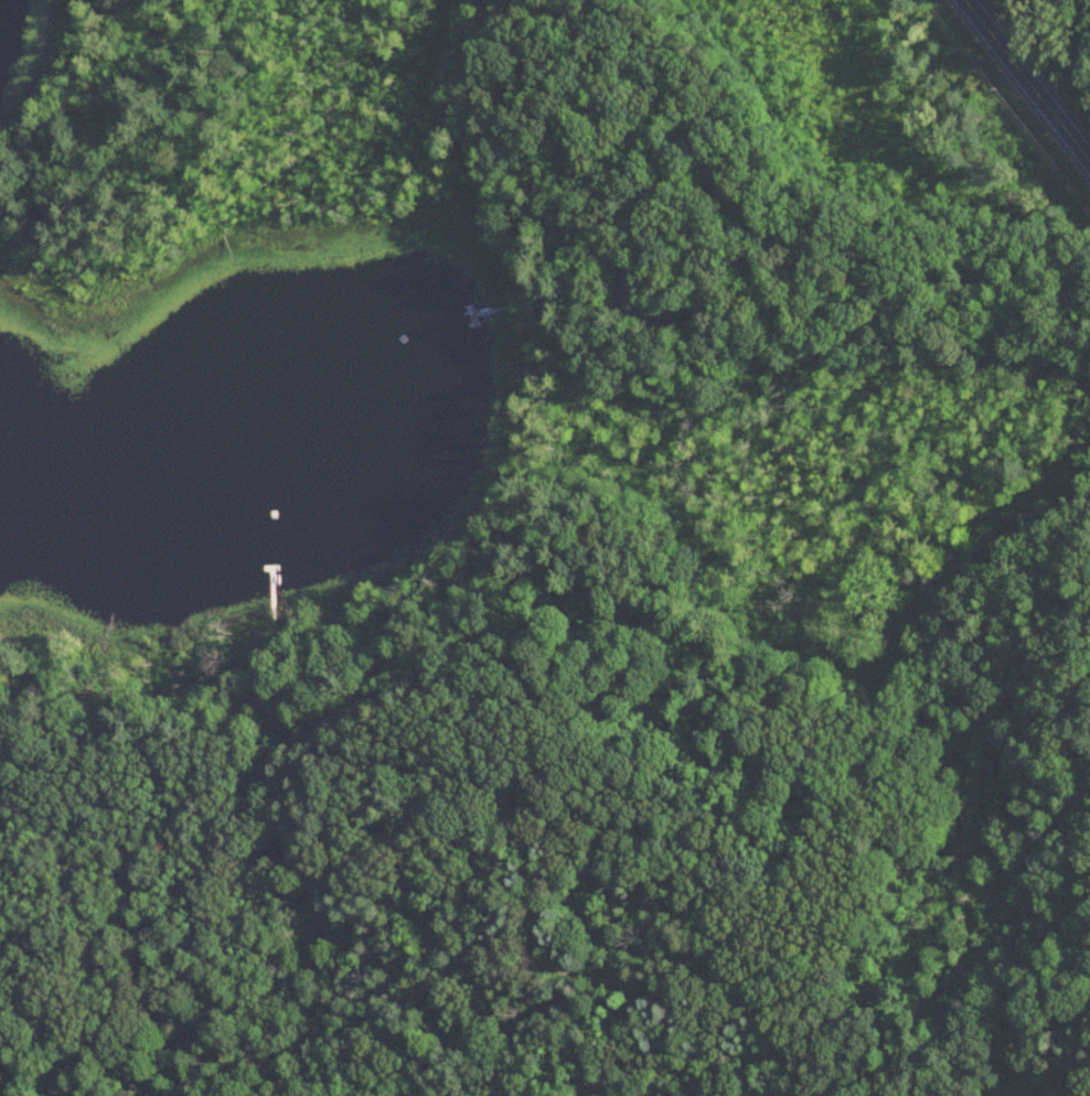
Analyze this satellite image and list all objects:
road: (1027, 80)
building: (720, 175)
road: (887, 286)
building: (633, 296)

